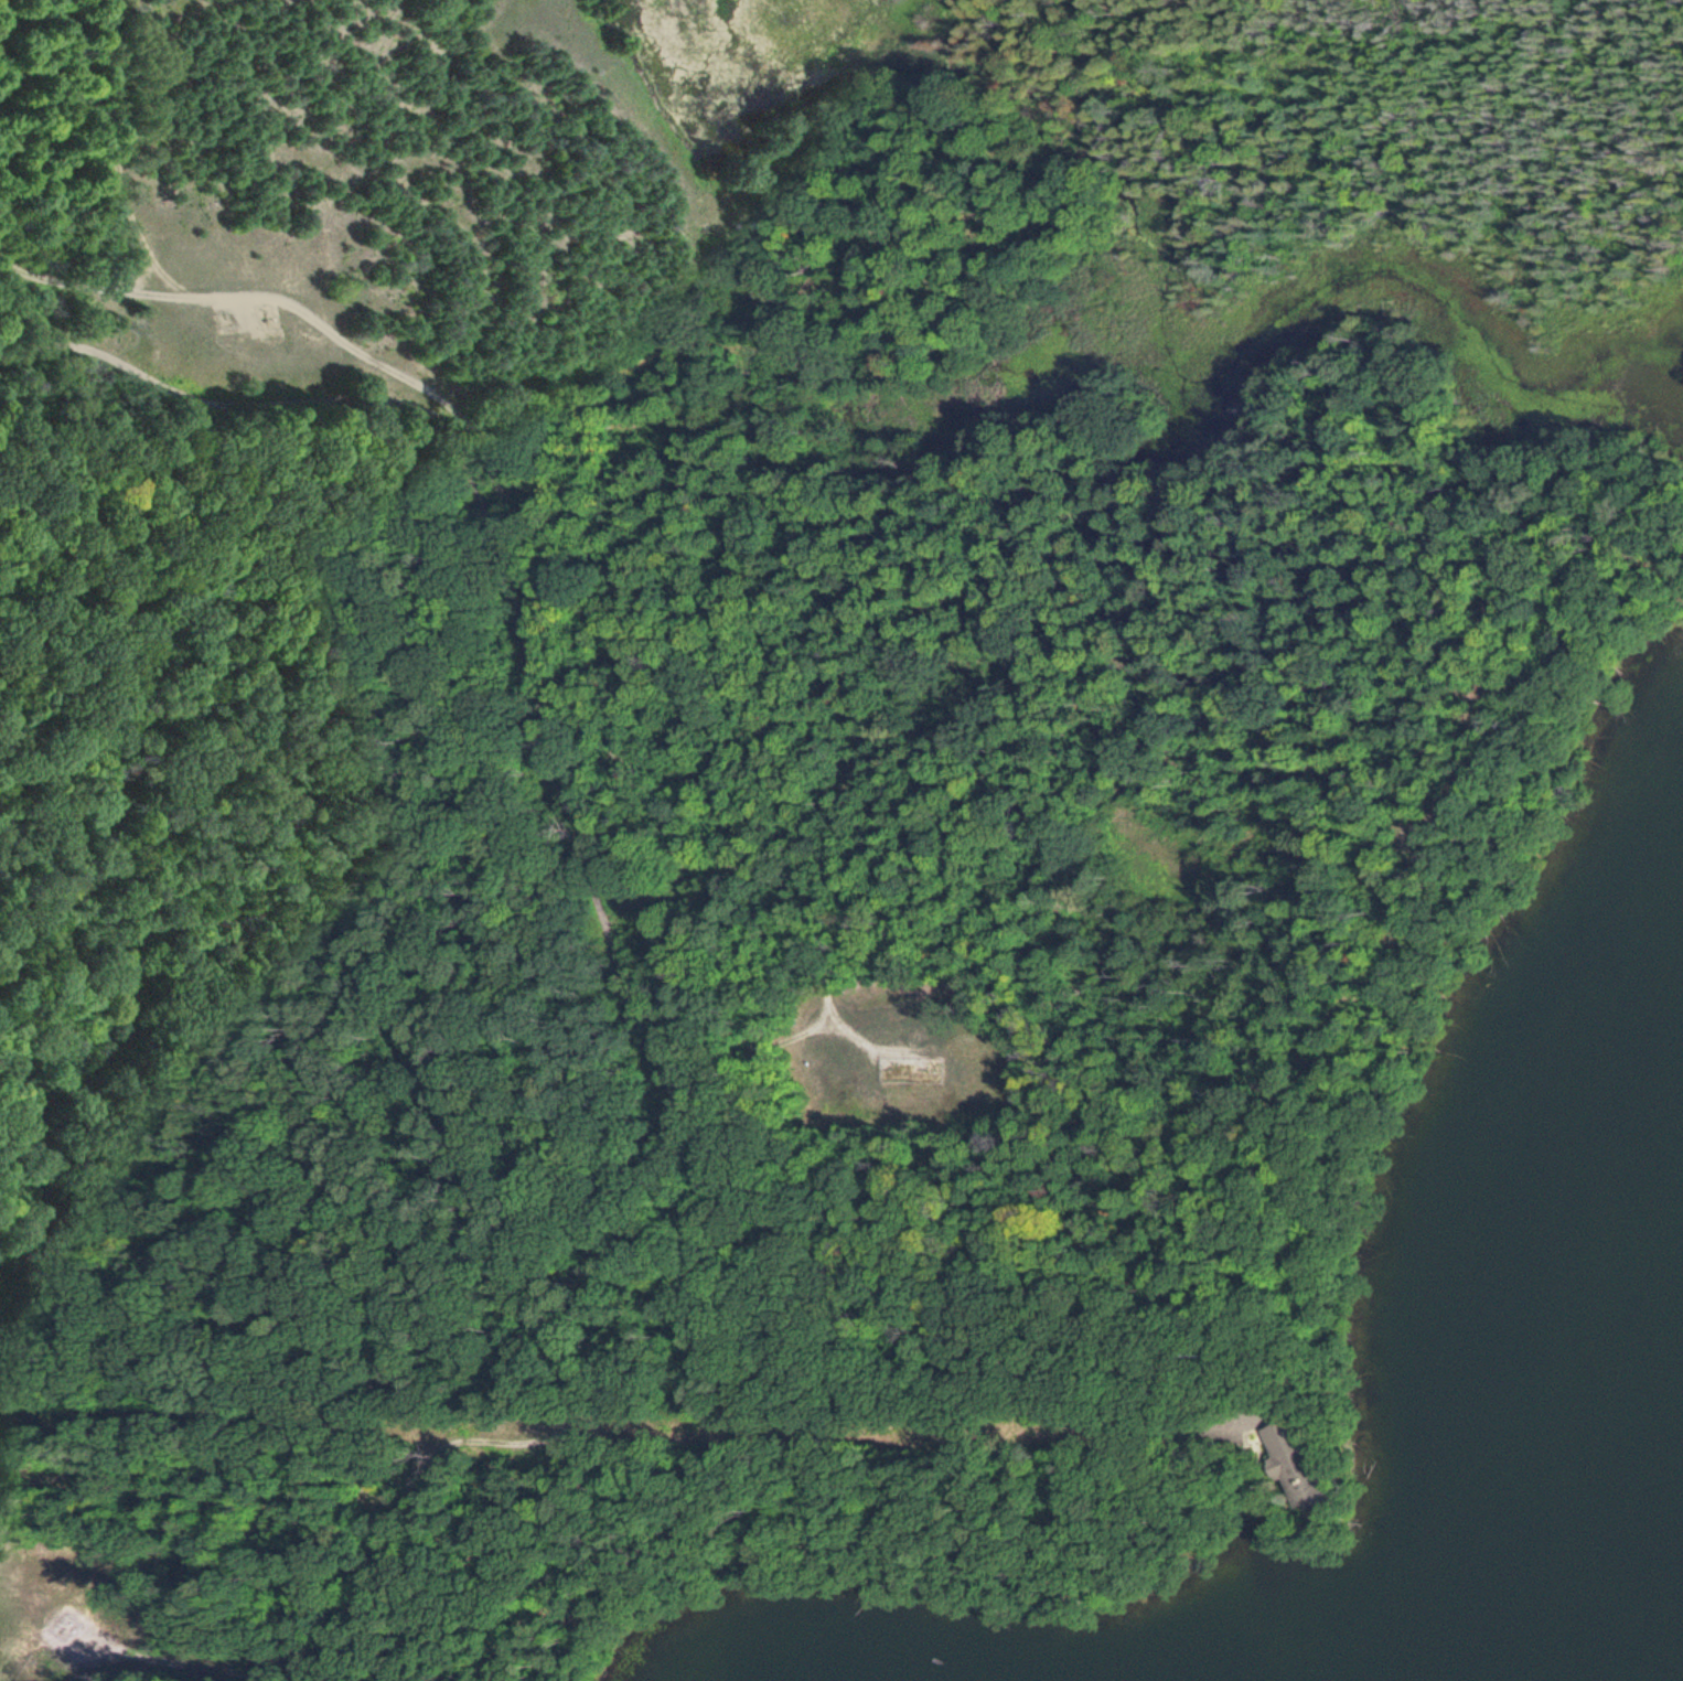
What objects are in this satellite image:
road: (579, 908)
building: (1298, 1460)

